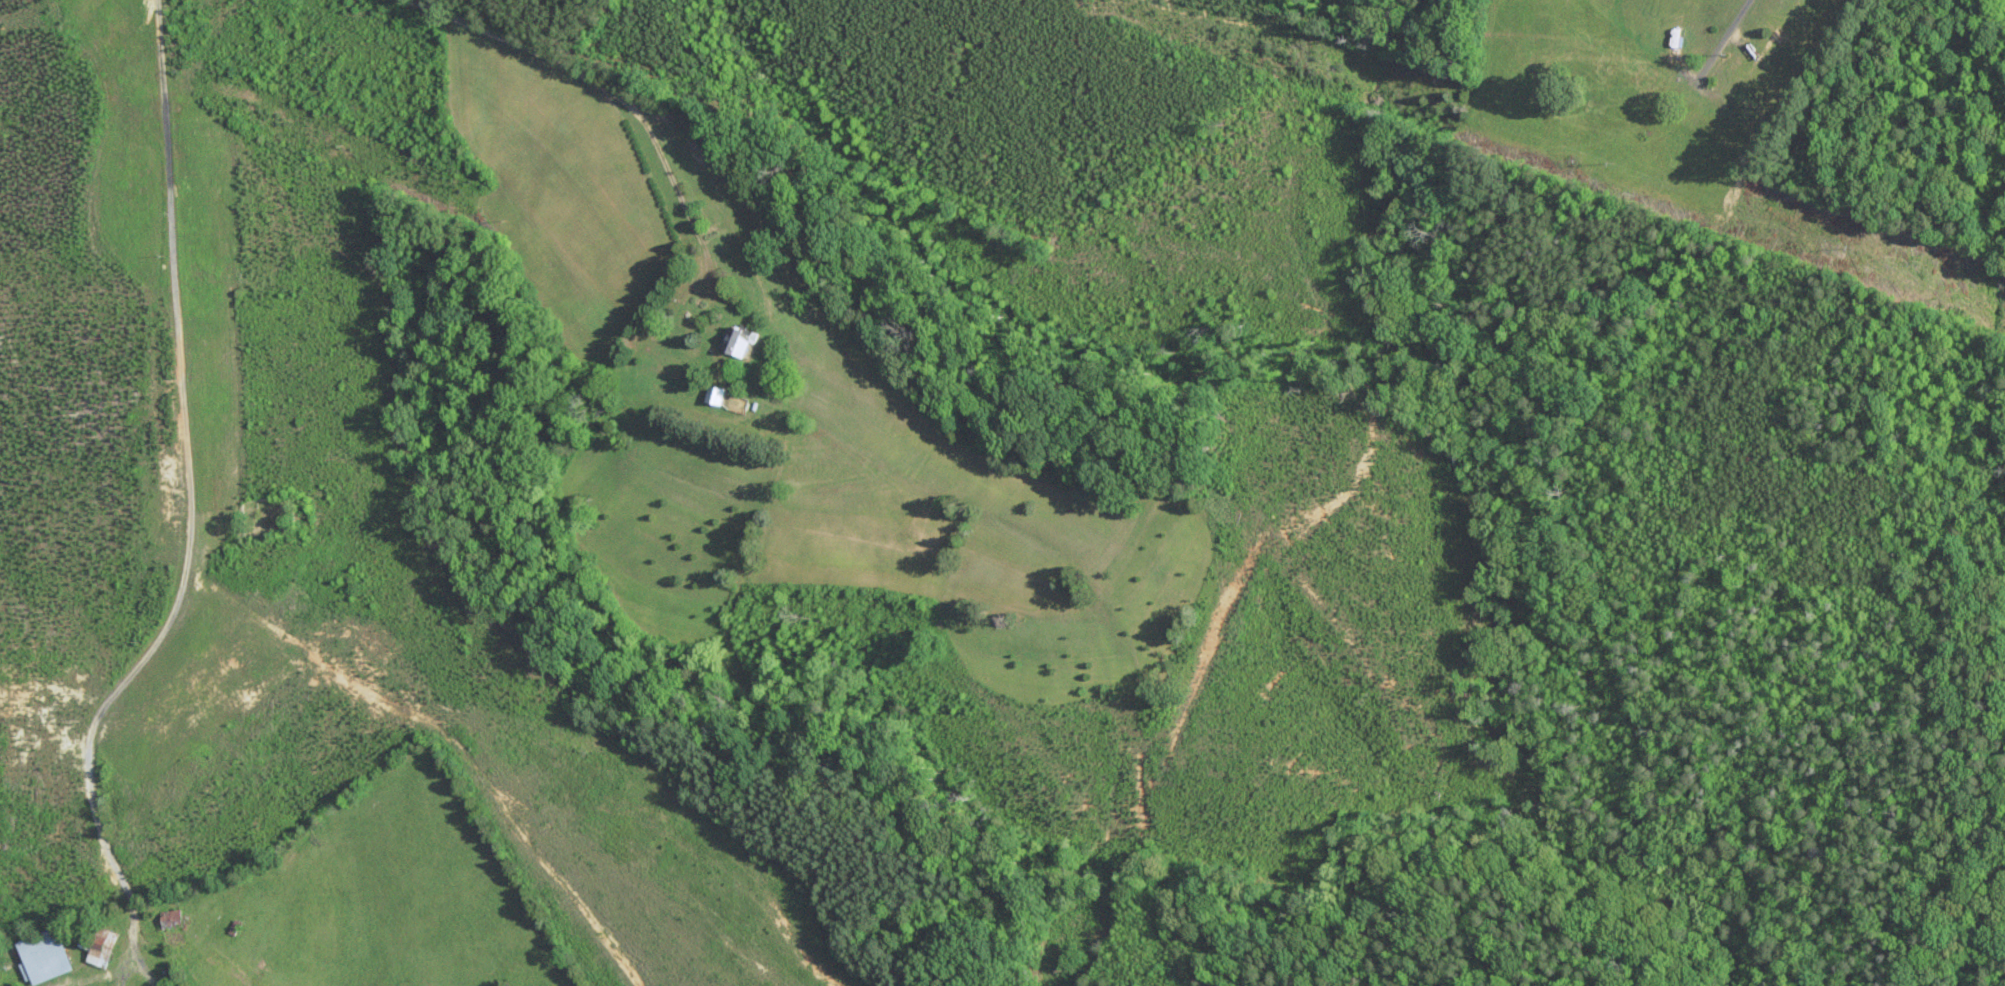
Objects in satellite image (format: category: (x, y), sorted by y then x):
road: (1724, 33)
road: (632, 111)
power tower: (1616, 161)
road: (188, 512)

